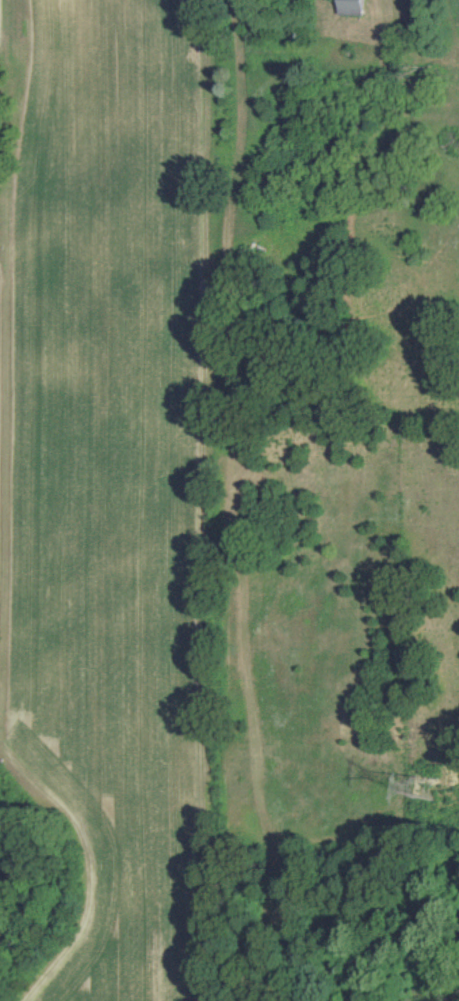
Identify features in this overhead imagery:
road: (396, 27)
power tower: (426, 788)

